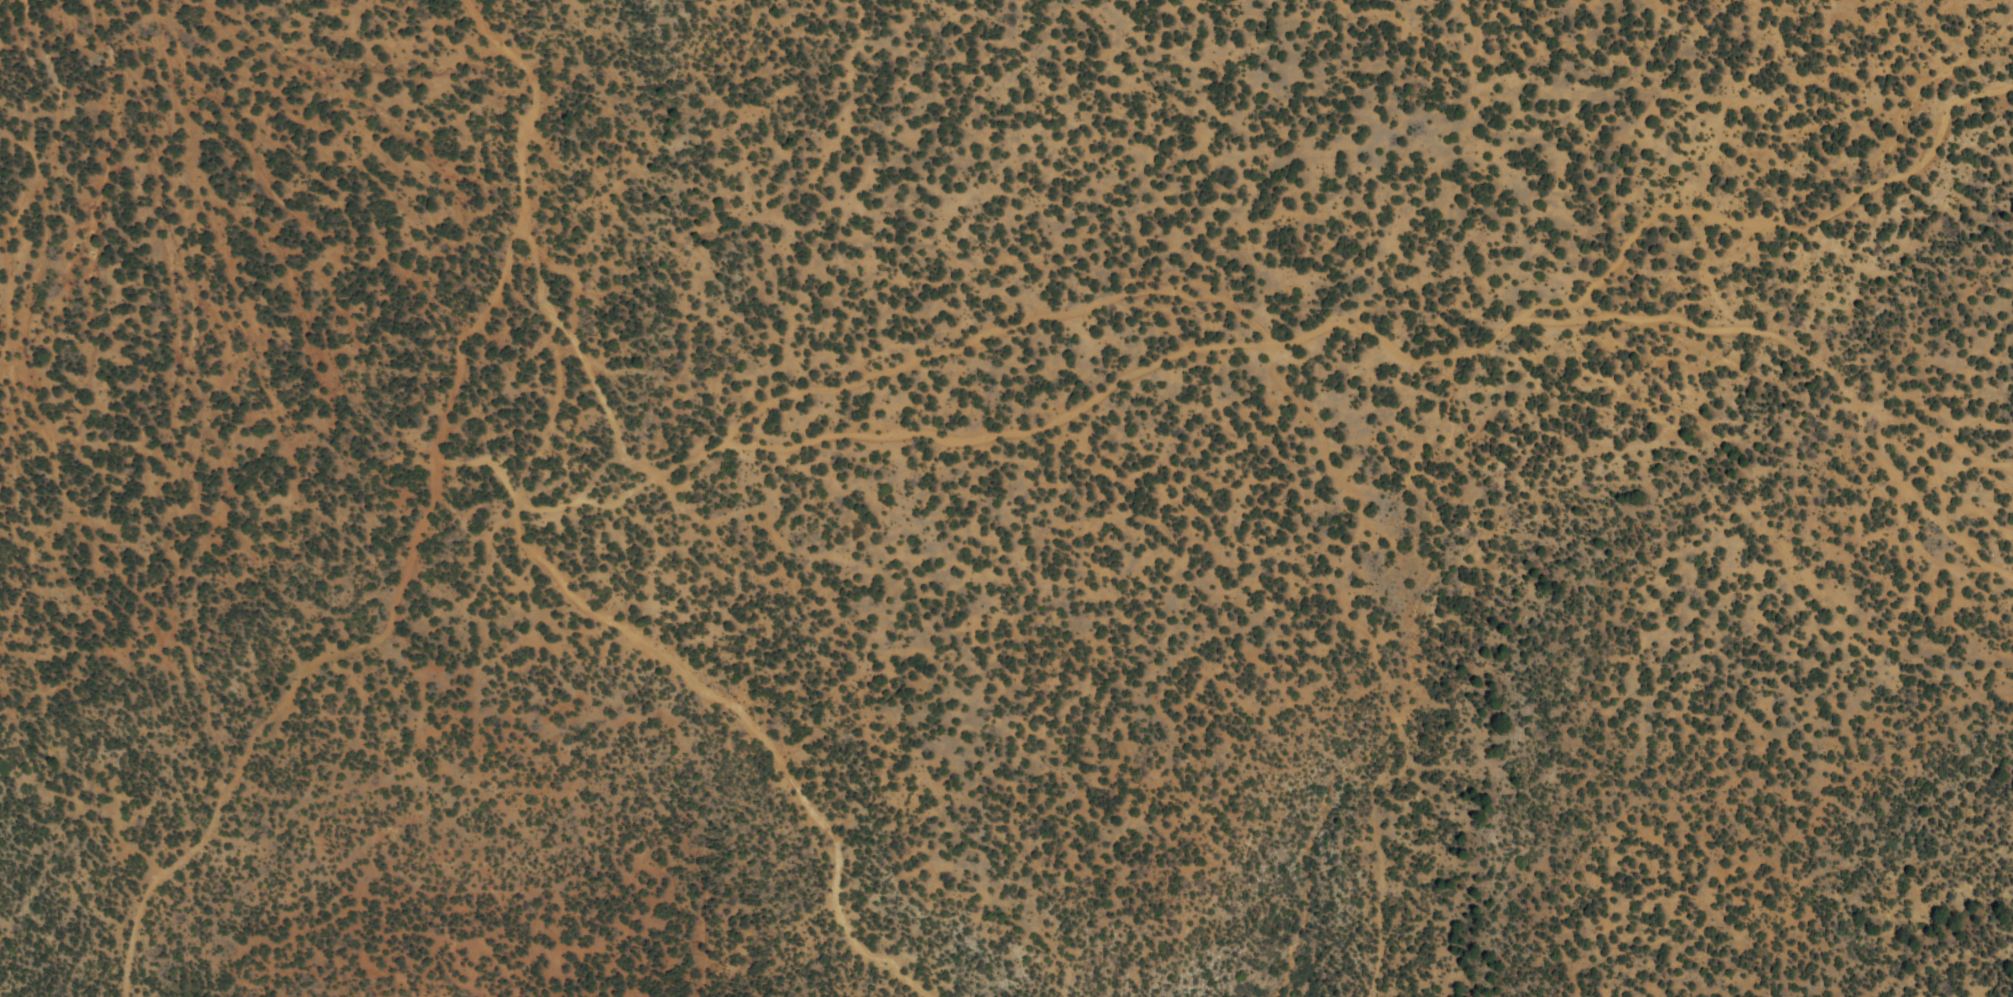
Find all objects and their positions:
road: (227, 668)

